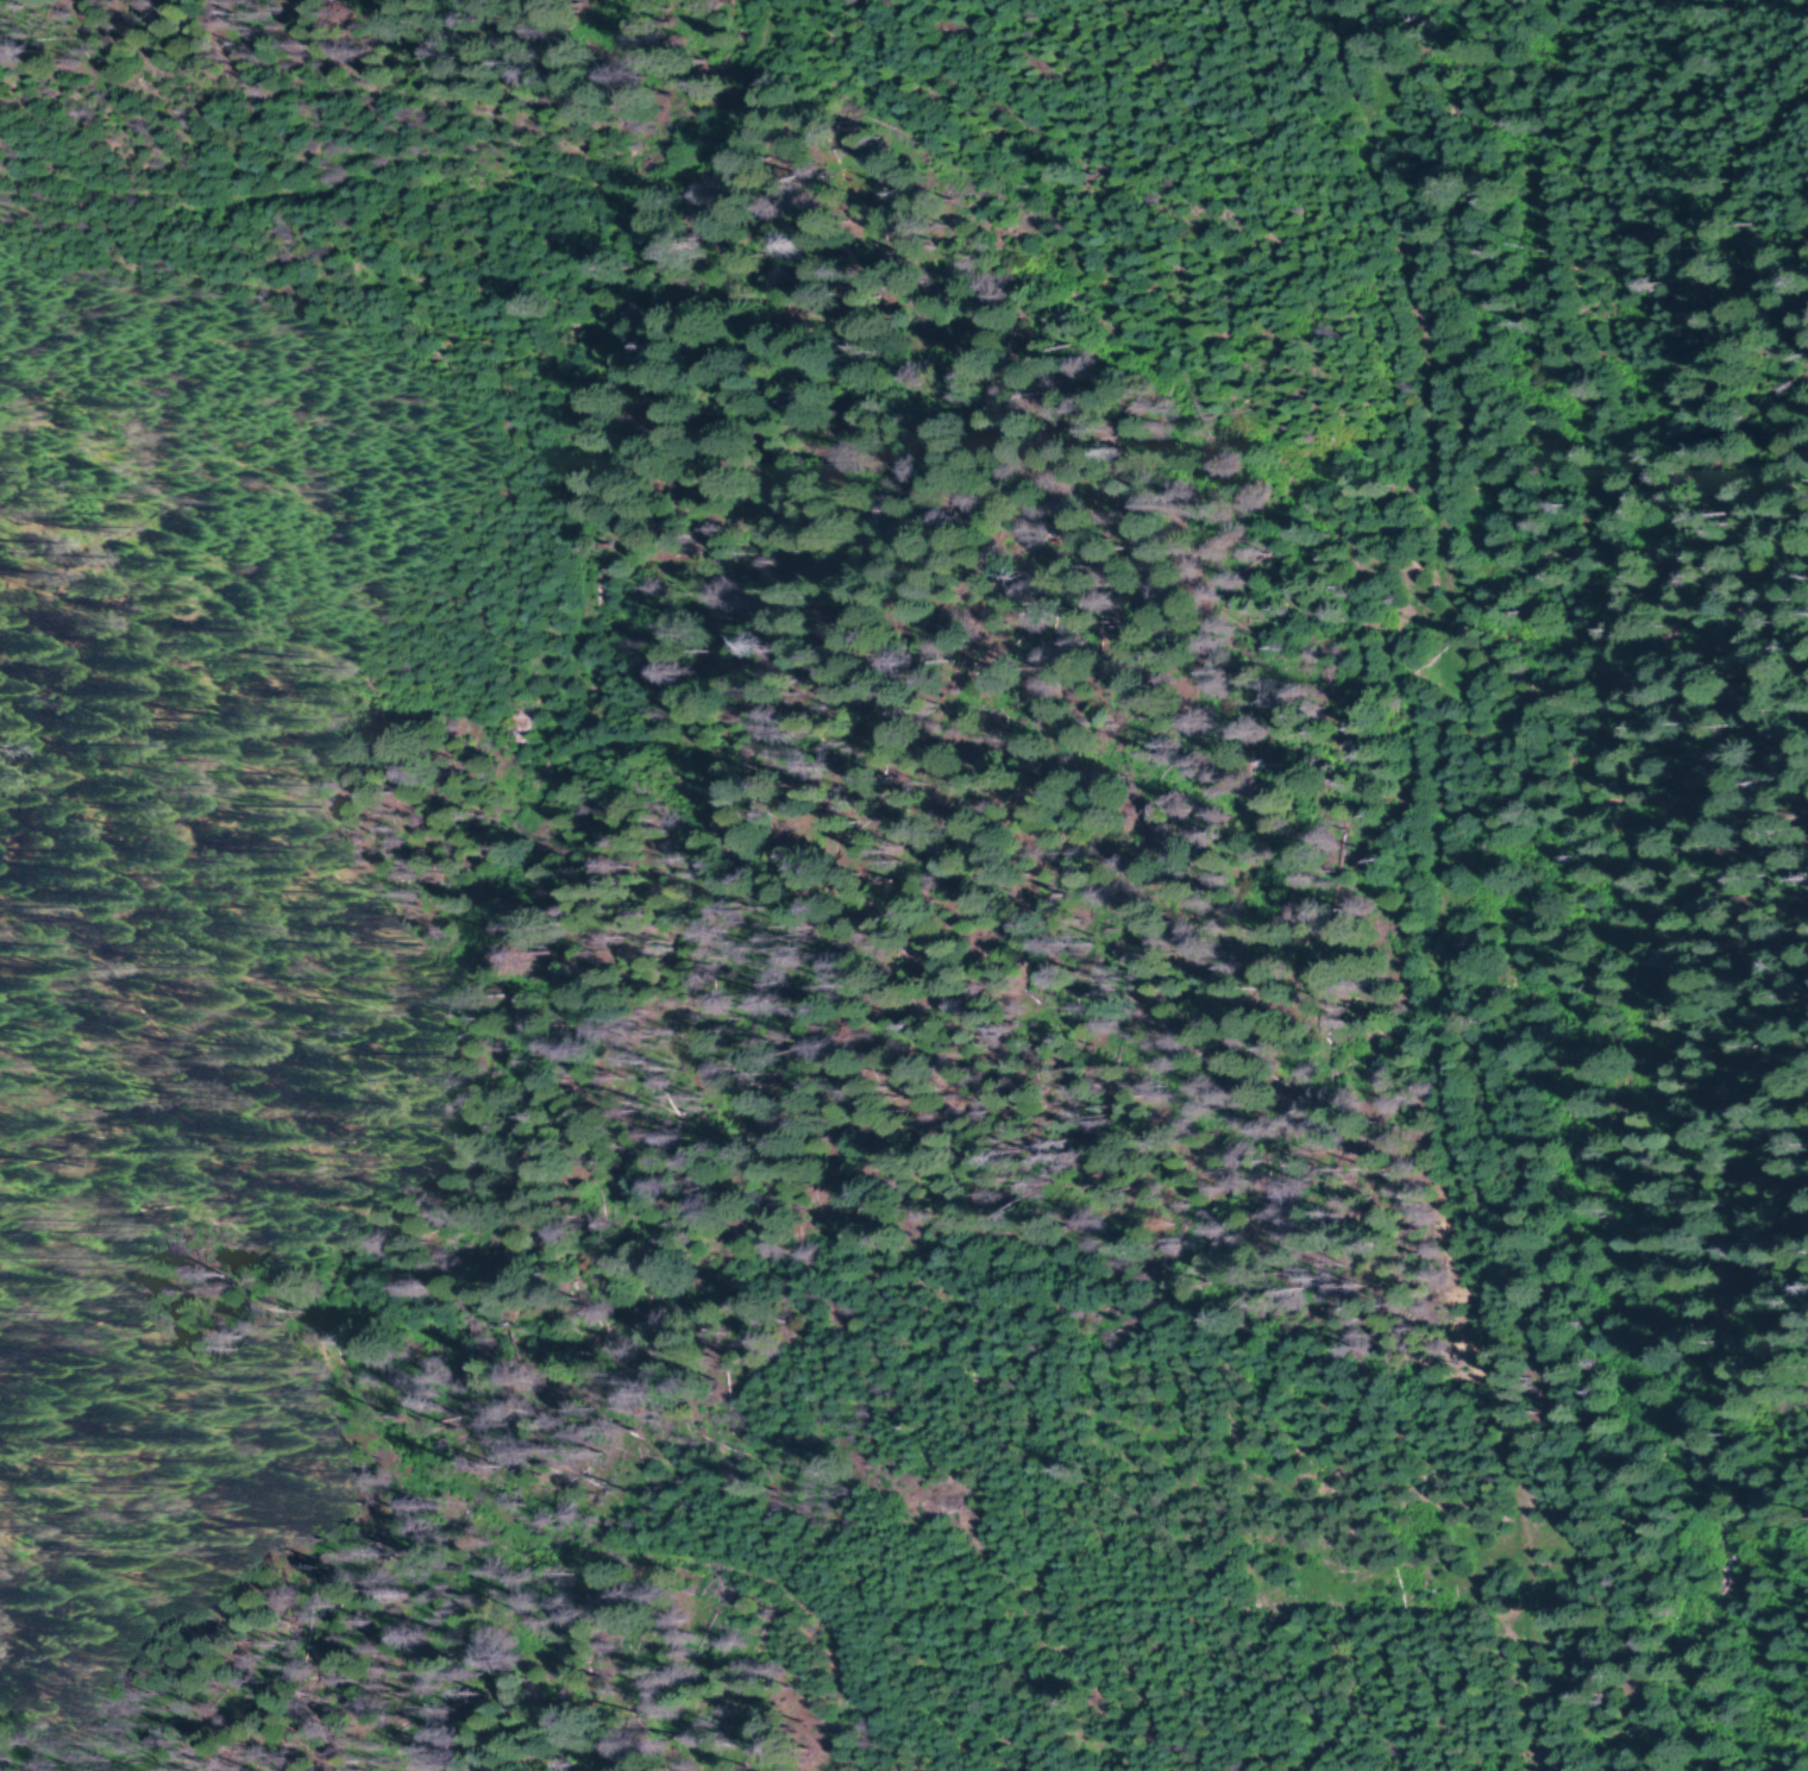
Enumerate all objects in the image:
road: (1425, 340)
road: (1470, 1233)

